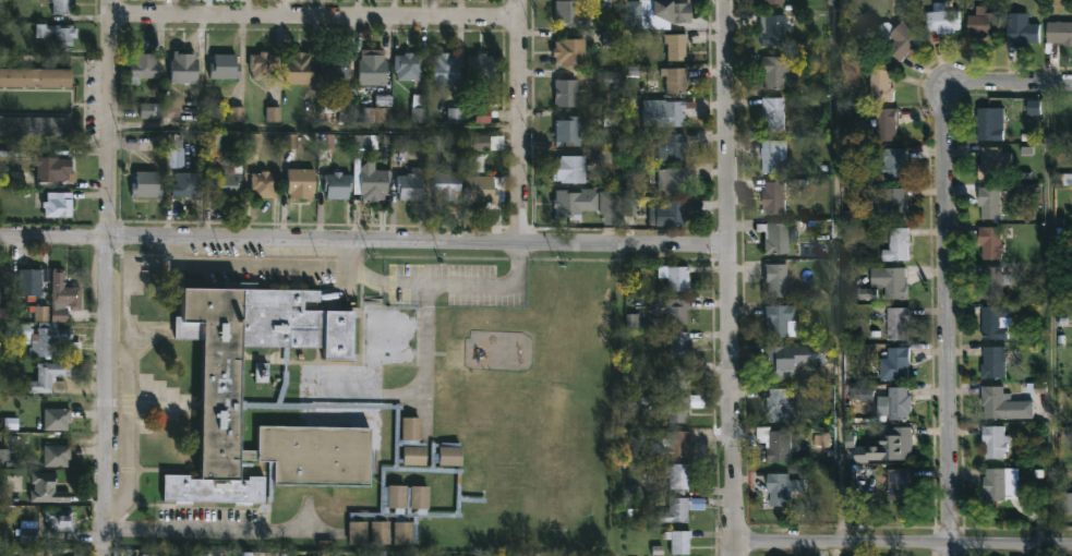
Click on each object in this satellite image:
building: (771, 1)
building: (61, 7)
building: (675, 11)
building: (574, 14)
building: (636, 15)
building: (940, 19)
road: (313, 21)
building: (981, 22)
building: (773, 31)
building: (1022, 32)
building: (1058, 32)
building: (57, 33)
building: (896, 39)
building: (675, 46)
building: (571, 51)
building: (262, 64)
building: (337, 65)
building: (224, 67)
building: (410, 67)
building: (483, 67)
building: (146, 68)
building: (185, 68)
building: (298, 69)
building: (374, 69)
building: (447, 69)
building: (774, 70)
building: (35, 77)
building: (675, 80)
building: (878, 84)
building: (565, 93)
building: (347, 104)
building: (420, 108)
building: (380, 110)
building: (669, 111)
building: (775, 112)
road: (518, 122)
building: (883, 123)
building: (988, 123)
building: (34, 125)
road: (312, 128)
building: (567, 130)
building: (491, 142)
building: (672, 146)
building: (176, 150)
building: (774, 155)
building: (888, 161)
building: (991, 161)
building: (53, 169)
building: (568, 169)
building: (673, 180)
building: (374, 182)
building: (229, 183)
building: (148, 184)
building: (188, 184)
building: (266, 184)
building: (301, 184)
building: (339, 185)
building: (449, 185)
building: (412, 186)
building: (484, 189)
building: (778, 197)
building: (988, 201)
building: (576, 203)
building: (611, 203)
building: (887, 203)
building: (57, 204)
building: (673, 214)
building: (778, 237)
road: (364, 241)
building: (989, 241)
building: (894, 244)
road: (949, 261)
road: (258, 266)
building: (2, 276)
building: (676, 276)
road: (838, 277)
road: (105, 278)
road: (731, 278)
building: (773, 279)
building: (890, 281)
building: (28, 282)
road: (389, 282)
building: (989, 282)
road: (432, 290)
building: (61, 297)
building: (674, 307)
road: (1053, 312)
building: (5, 314)
building: (40, 315)
building: (778, 321)
building: (993, 322)
building: (896, 323)
building: (41, 338)
building: (680, 342)
building: (788, 360)
building: (992, 362)
building: (893, 363)
building: (675, 376)
building: (49, 378)
building: (220, 390)
building: (898, 402)
building: (1001, 403)
building: (782, 404)
building: (675, 409)
building: (56, 419)
building: (411, 426)
building: (992, 440)
building: (780, 442)
building: (898, 442)
building: (676, 443)
building: (413, 454)
building: (450, 454)
building: (56, 456)
building: (678, 474)
building: (473, 479)
building: (895, 482)
building: (998, 483)
building: (786, 486)
building: (45, 489)
building: (445, 491)
building: (397, 497)
building: (419, 497)
building: (1065, 504)
building: (678, 509)
building: (58, 521)
building: (431, 528)
building: (380, 531)
building: (28, 532)
road: (219, 532)
building: (357, 532)
building: (402, 532)
building: (682, 541)
road: (904, 542)

